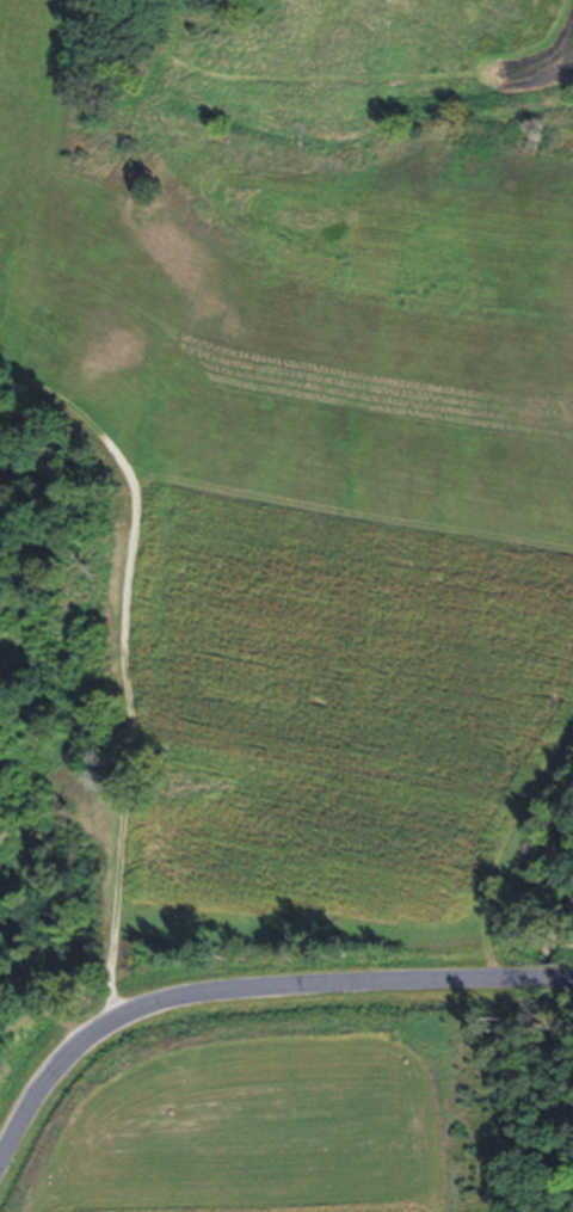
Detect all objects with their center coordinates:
road: (252, 979)

